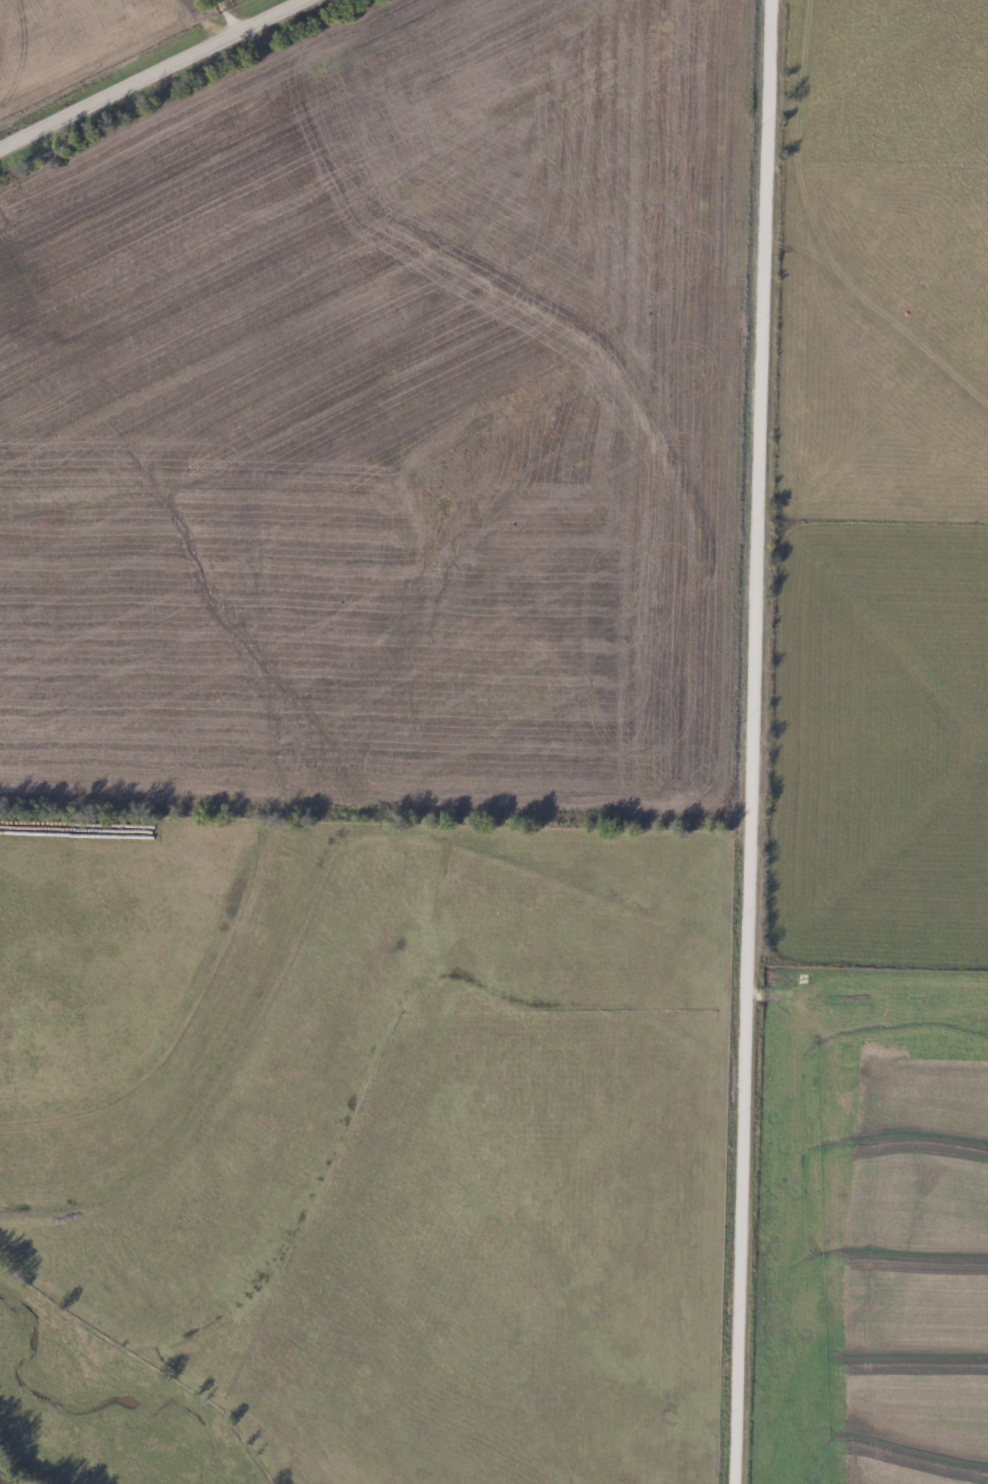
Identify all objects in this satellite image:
road: (229, 16)
road: (153, 75)
road: (747, 742)

